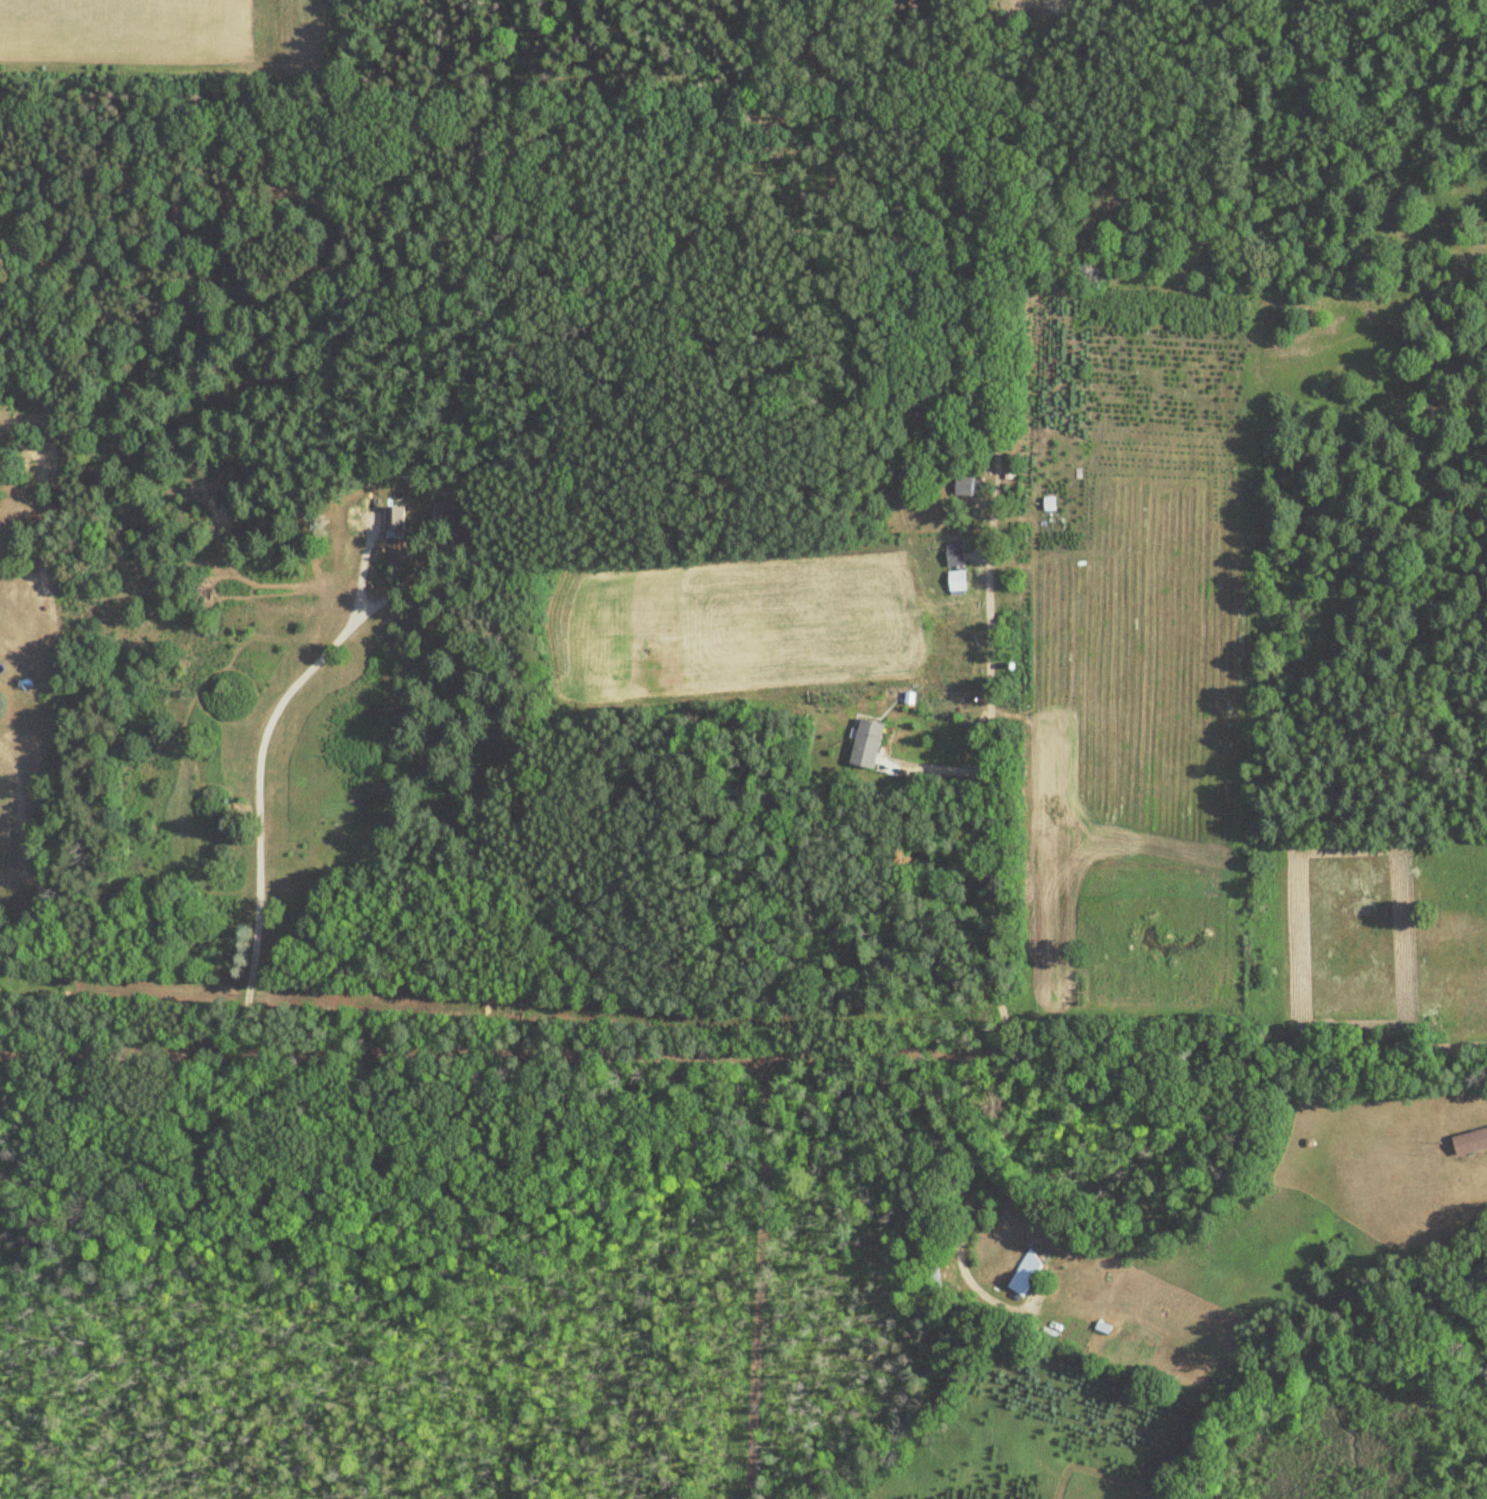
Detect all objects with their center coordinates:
building: (965, 485)
building: (392, 519)
building: (953, 554)
building: (866, 744)
road: (258, 766)
road: (941, 769)
road: (997, 780)
road: (743, 1046)
building: (1470, 1142)
road: (975, 1197)
building: (1025, 1271)
road: (758, 1272)
building: (1101, 1327)

